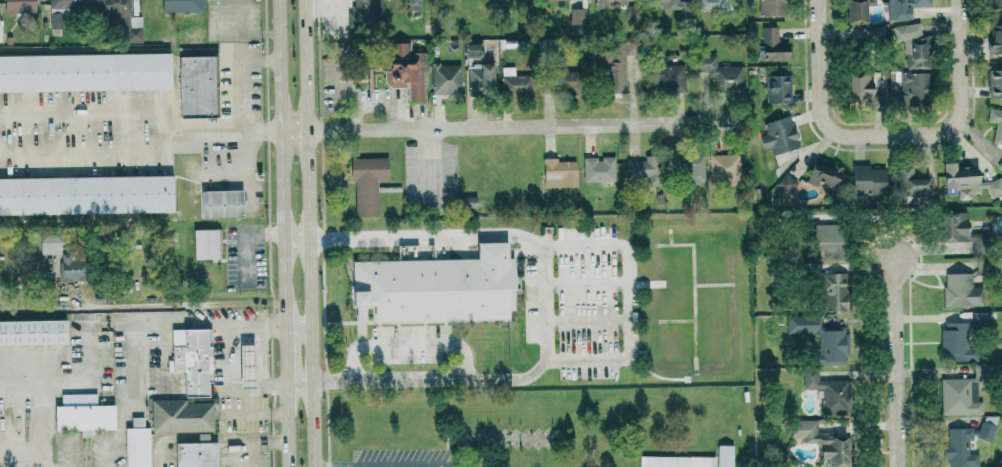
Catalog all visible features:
building: (552, 0)
building: (609, 2)
building: (995, 3)
building: (414, 4)
building: (668, 4)
building: (711, 4)
building: (18, 6)
building: (182, 6)
building: (772, 7)
building: (903, 8)
building: (66, 10)
building: (855, 11)
building: (368, 13)
building: (578, 16)
building: (133, 29)
building: (876, 32)
building: (995, 39)
building: (773, 45)
building: (913, 45)
building: (470, 50)
building: (614, 64)
road: (961, 67)
building: (405, 69)
building: (85, 72)
building: (720, 72)
building: (669, 77)
building: (445, 79)
building: (480, 79)
building: (564, 81)
building: (514, 82)
building: (995, 83)
building: (196, 86)
building: (859, 87)
building: (778, 88)
building: (912, 91)
road: (821, 99)
road: (243, 100)
road: (93, 112)
building: (996, 125)
road: (514, 126)
road: (231, 132)
road: (925, 133)
building: (778, 135)
road: (92, 152)
road: (283, 164)
building: (689, 167)
building: (1001, 168)
building: (599, 169)
building: (725, 169)
building: (560, 171)
building: (641, 171)
building: (822, 175)
building: (867, 180)
building: (968, 181)
building: (910, 182)
building: (367, 184)
building: (786, 184)
building: (86, 195)
building: (467, 202)
building: (220, 203)
building: (954, 227)
road: (309, 233)
road: (244, 238)
road: (297, 239)
building: (825, 240)
building: (50, 244)
building: (205, 244)
building: (71, 268)
building: (435, 287)
building: (834, 290)
building: (961, 290)
road: (629, 301)
road: (544, 302)
building: (979, 320)
road: (209, 324)
road: (299, 329)
building: (33, 332)
building: (821, 339)
building: (955, 341)
road: (410, 344)
road: (286, 355)
building: (191, 359)
road: (896, 360)
building: (245, 366)
road: (300, 381)
road: (253, 383)
building: (829, 393)
building: (958, 397)
road: (255, 412)
building: (82, 414)
building: (180, 416)
road: (288, 423)
building: (986, 431)
building: (820, 440)
road: (256, 441)
building: (136, 444)
building: (960, 448)
building: (195, 453)
building: (725, 455)
road: (165, 456)
building: (676, 461)
road: (376, 464)
road: (358, 466)

